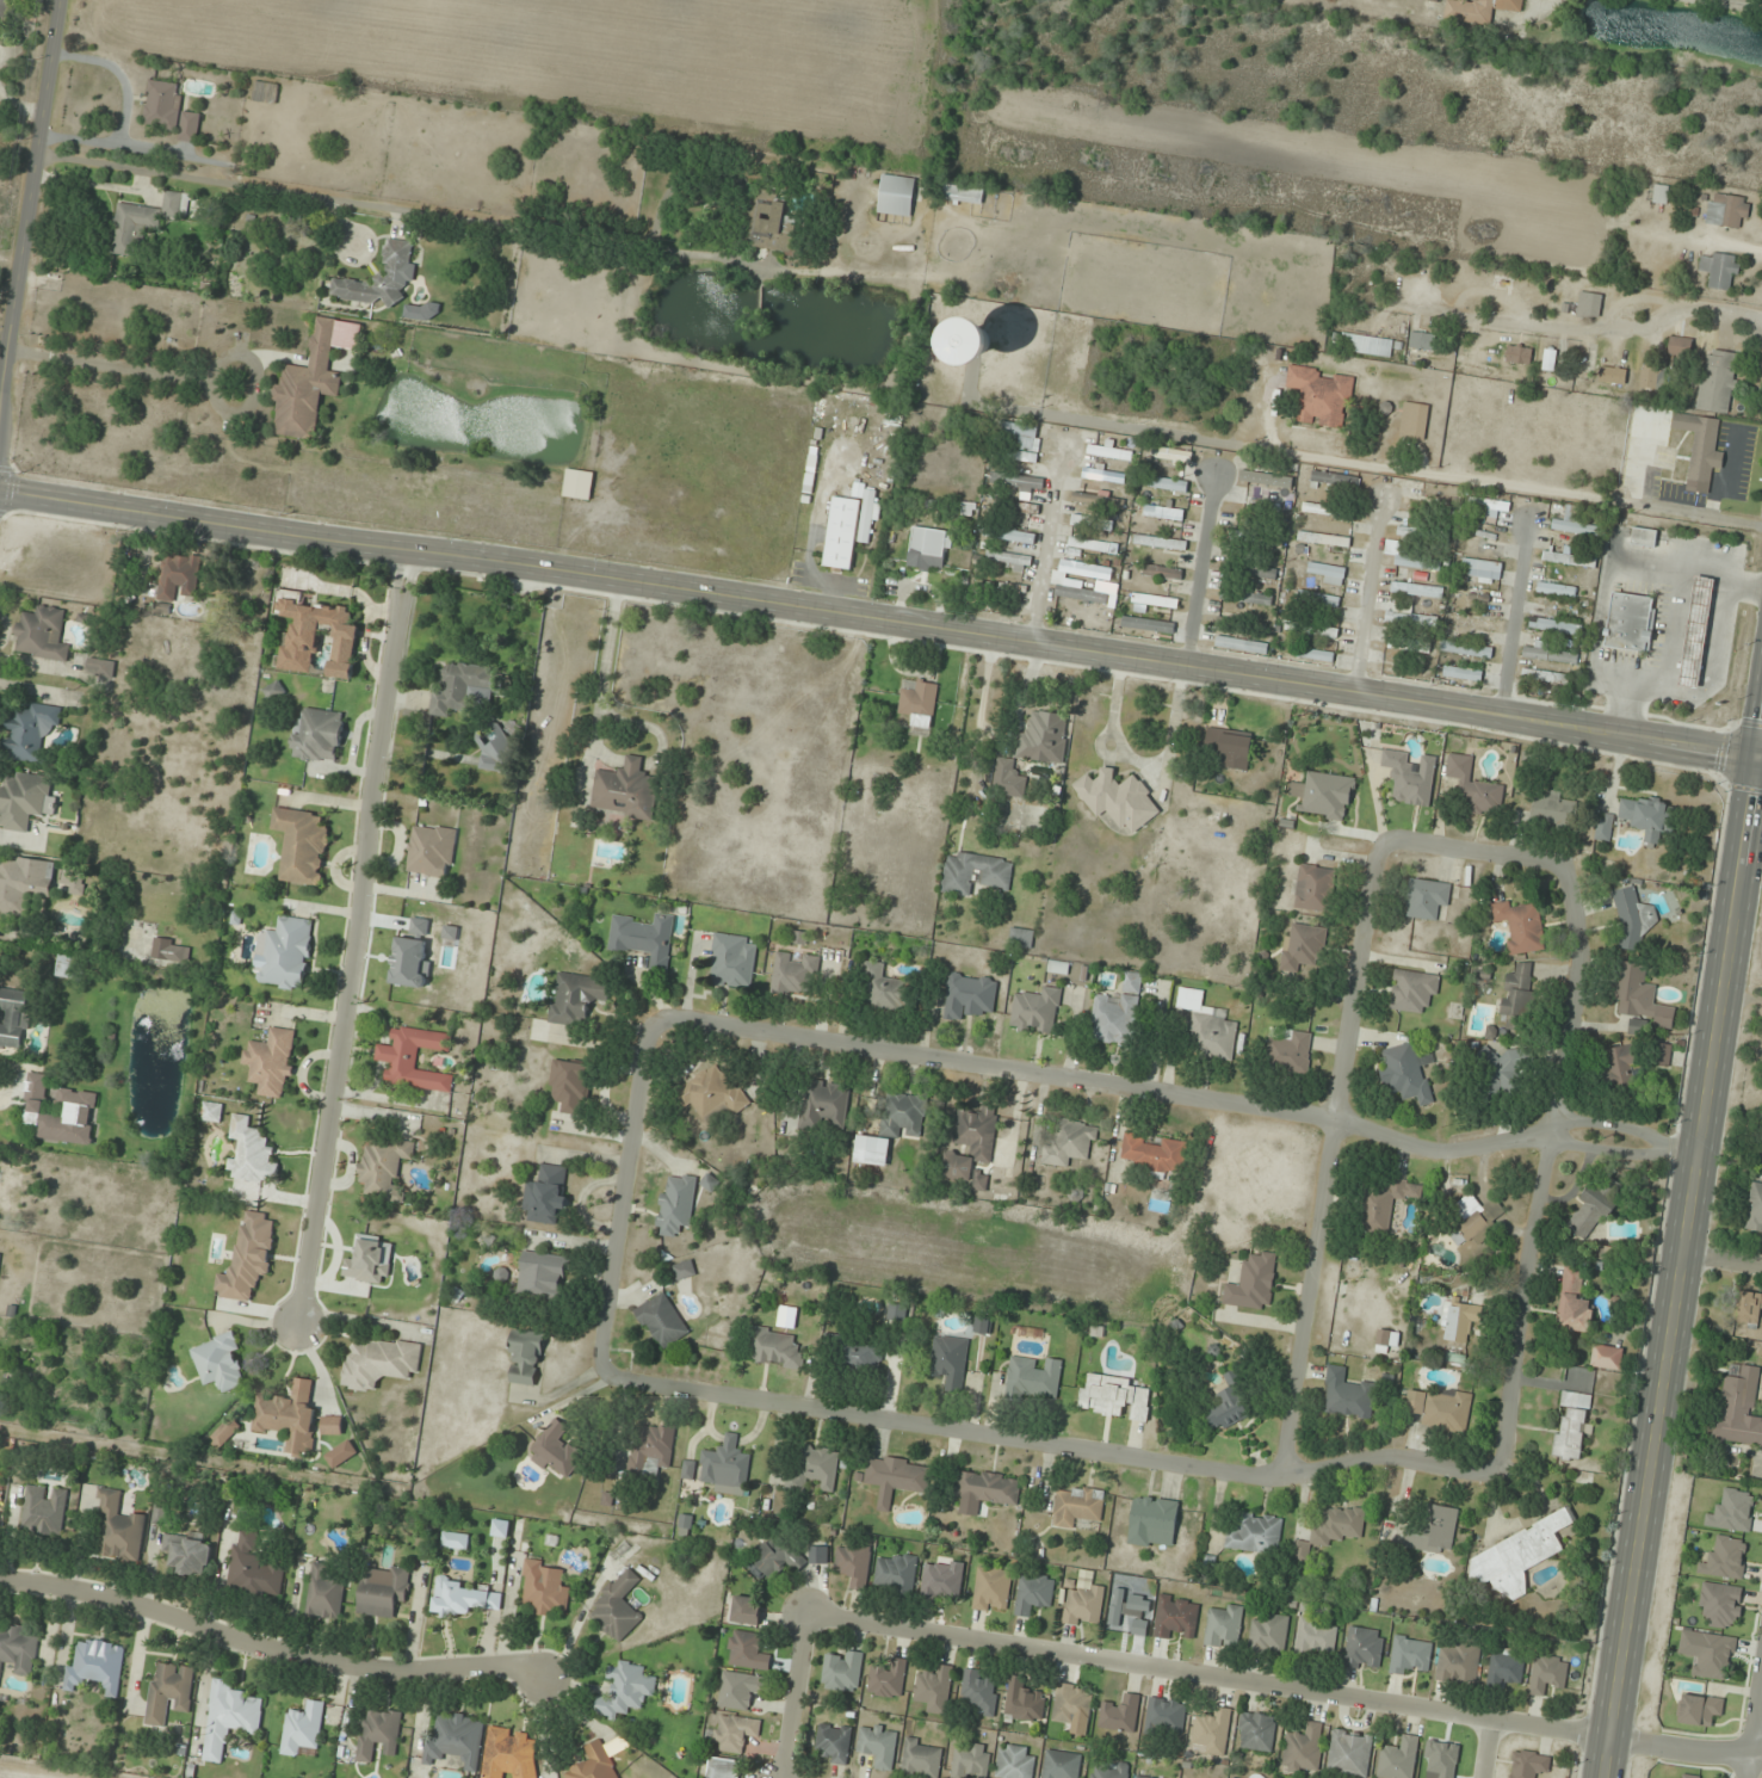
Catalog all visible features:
building: (5, 10)
building: (1478, 10)
building: (265, 92)
building: (169, 111)
road: (277, 187)
building: (963, 193)
building: (1661, 195)
building: (897, 196)
road: (27, 199)
building: (1726, 210)
building: (141, 223)
building: (777, 226)
road: (1545, 268)
building: (1719, 270)
building: (382, 278)
building: (1589, 304)
building: (1424, 340)
building: (976, 341)
building: (1366, 345)
building: (1680, 346)
building: (1519, 354)
building: (1550, 359)
building: (1613, 375)
building: (1651, 375)
building: (1717, 381)
building: (308, 385)
building: (1321, 396)
building: (1414, 421)
building: (1024, 434)
building: (1700, 444)
building: (1020, 456)
building: (810, 469)
building: (1103, 475)
building: (1016, 482)
building: (577, 484)
building: (1168, 484)
road: (1558, 490)
building: (1098, 500)
building: (1014, 507)
building: (1482, 508)
building: (1328, 511)
building: (1163, 512)
building: (1099, 523)
building: (1577, 525)
building: (841, 532)
building: (1009, 535)
building: (1644, 537)
building: (1324, 539)
road: (1046, 543)
building: (1160, 543)
building: (1089, 544)
building: (931, 550)
building: (1569, 560)
building: (1480, 561)
building: (1416, 562)
building: (1251, 570)
road: (1199, 572)
road: (592, 573)
building: (1162, 573)
building: (1329, 575)
building: (179, 576)
building: (1058, 582)
building: (1416, 589)
building: (1557, 589)
building: (1247, 595)
road: (1368, 595)
building: (1319, 601)
building: (1150, 603)
road: (1515, 617)
building: (1411, 619)
building: (1630, 622)
building: (1472, 623)
building: (1556, 626)
building: (1148, 630)
building: (1319, 630)
building: (1695, 631)
building: (42, 634)
building: (315, 635)
building: (1408, 649)
building: (1466, 649)
building: (1548, 654)
building: (1311, 655)
building: (99, 666)
building: (1463, 673)
building: (1545, 677)
building: (463, 687)
building: (274, 691)
building: (919, 702)
road: (1470, 710)
road: (979, 717)
building: (31, 731)
building: (319, 737)
building: (1045, 739)
building: (1229, 747)
building: (493, 757)
traffic signals: (1756, 759)
road: (1758, 759)
building: (1409, 777)
building: (1008, 778)
building: (1474, 786)
building: (626, 790)
building: (1324, 796)
building: (1118, 800)
building: (25, 802)
building: (1554, 809)
building: (1647, 816)
building: (1603, 827)
building: (302, 846)
road: (1472, 846)
building: (431, 851)
building: (975, 872)
building: (74, 881)
building: (24, 884)
building: (1315, 888)
building: (1426, 899)
building: (1633, 916)
building: (1521, 925)
building: (0, 927)
road: (354, 937)
building: (645, 939)
building: (1303, 947)
building: (169, 950)
building: (286, 953)
building: (732, 961)
building: (67, 969)
building: (795, 974)
building: (882, 987)
building: (1412, 990)
building: (969, 995)
building: (1640, 996)
building: (576, 998)
building: (1517, 998)
building: (1037, 1011)
building: (1117, 1013)
building: (14, 1018)
building: (1208, 1027)
building: (1288, 1051)
building: (1662, 1055)
building: (415, 1058)
building: (271, 1062)
building: (1621, 1067)
building: (1406, 1072)
building: (1498, 1072)
building: (571, 1085)
road: (1179, 1092)
building: (713, 1094)
building: (827, 1105)
building: (60, 1112)
building: (212, 1112)
building: (903, 1116)
building: (971, 1142)
building: (1070, 1142)
building: (873, 1143)
building: (251, 1153)
building: (1154, 1153)
road: (1329, 1155)
road: (1540, 1168)
building: (384, 1169)
road: (620, 1191)
building: (546, 1196)
building: (1384, 1202)
building: (676, 1204)
building: (1594, 1208)
building: (1754, 1209)
building: (1476, 1217)
road: (1678, 1248)
building: (0, 1254)
building: (248, 1257)
building: (370, 1260)
road: (1720, 1261)
building: (684, 1270)
building: (543, 1276)
building: (1253, 1283)
building: (1574, 1302)
building: (1749, 1308)
building: (897, 1311)
building: (662, 1321)
building: (1458, 1322)
building: (983, 1325)
building: (773, 1347)
building: (859, 1356)
building: (525, 1357)
building: (1607, 1357)
building: (218, 1362)
building: (379, 1362)
building: (950, 1362)
building: (1031, 1378)
building: (1348, 1394)
building: (1114, 1397)
building: (1231, 1406)
building: (1739, 1406)
building: (1439, 1408)
building: (289, 1418)
building: (1571, 1425)
building: (225, 1432)
road: (1047, 1445)
building: (557, 1450)
building: (651, 1451)
building: (727, 1467)
building: (814, 1469)
building: (897, 1477)
building: (987, 1487)
building: (1077, 1507)
building: (44, 1511)
building: (159, 1512)
building: (0, 1515)
building: (1152, 1521)
building: (120, 1527)
building: (1334, 1529)
building: (1434, 1530)
building: (1255, 1533)
building: (188, 1554)
building: (1519, 1555)
building: (778, 1556)
building: (853, 1564)
building: (253, 1568)
building: (897, 1573)
building: (942, 1580)
building: (543, 1587)
building: (383, 1589)
building: (991, 1589)
building: (326, 1592)
building: (1034, 1593)
building: (459, 1598)
building: (1721, 1604)
building: (1083, 1605)
building: (617, 1607)
building: (747, 1610)
building: (1176, 1618)
building: (1224, 1626)
building: (1268, 1634)
building: (1316, 1635)
building: (18, 1648)
building: (1364, 1648)
building: (747, 1650)
building: (1712, 1650)
road: (267, 1652)
building: (1410, 1655)
building: (1458, 1663)
building: (97, 1666)
building: (1504, 1669)
building: (842, 1671)
road: (1204, 1673)
building: (1547, 1673)
building: (888, 1679)
building: (935, 1689)
building: (625, 1690)
building: (740, 1690)
building: (169, 1691)
building: (981, 1691)
road: (789, 1693)
building: (1024, 1702)
building: (1071, 1705)
building: (1700, 1709)
building: (1120, 1714)
building: (1166, 1715)
building: (230, 1716)
road: (1751, 1721)
building: (303, 1728)
building: (1213, 1730)
building: (1256, 1731)
building: (378, 1733)
building: (734, 1733)
building: (457, 1740)
building: (834, 1742)
building: (878, 1743)
building: (1304, 1749)
road: (1488, 1749)
road: (1683, 1749)
building: (1350, 1753)
building: (511, 1754)
building: (1398, 1758)
building: (922, 1759)
building: (971, 1760)
building: (1015, 1761)
building: (595, 1762)
building: (1062, 1765)
building: (1529, 1765)
building: (723, 1767)
building: (1109, 1771)
building: (1242, 1776)
building: (1692, 1776)

